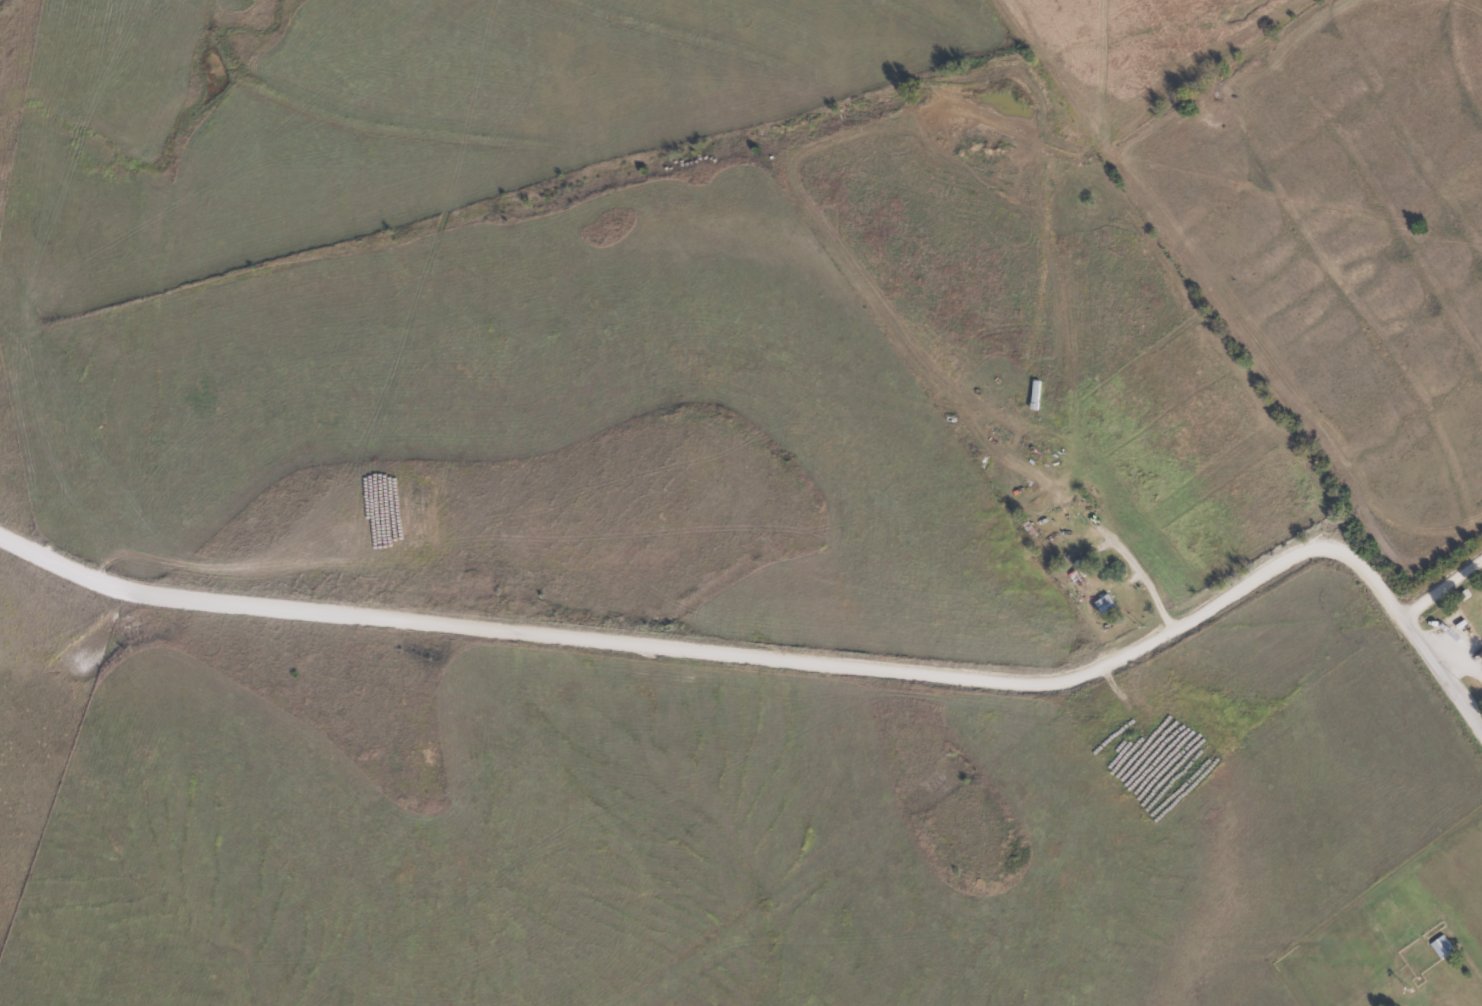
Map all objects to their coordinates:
road: (1436, 582)
building: (1119, 602)
road: (723, 657)
road: (1433, 681)
building: (1439, 948)
road: (1481, 962)

